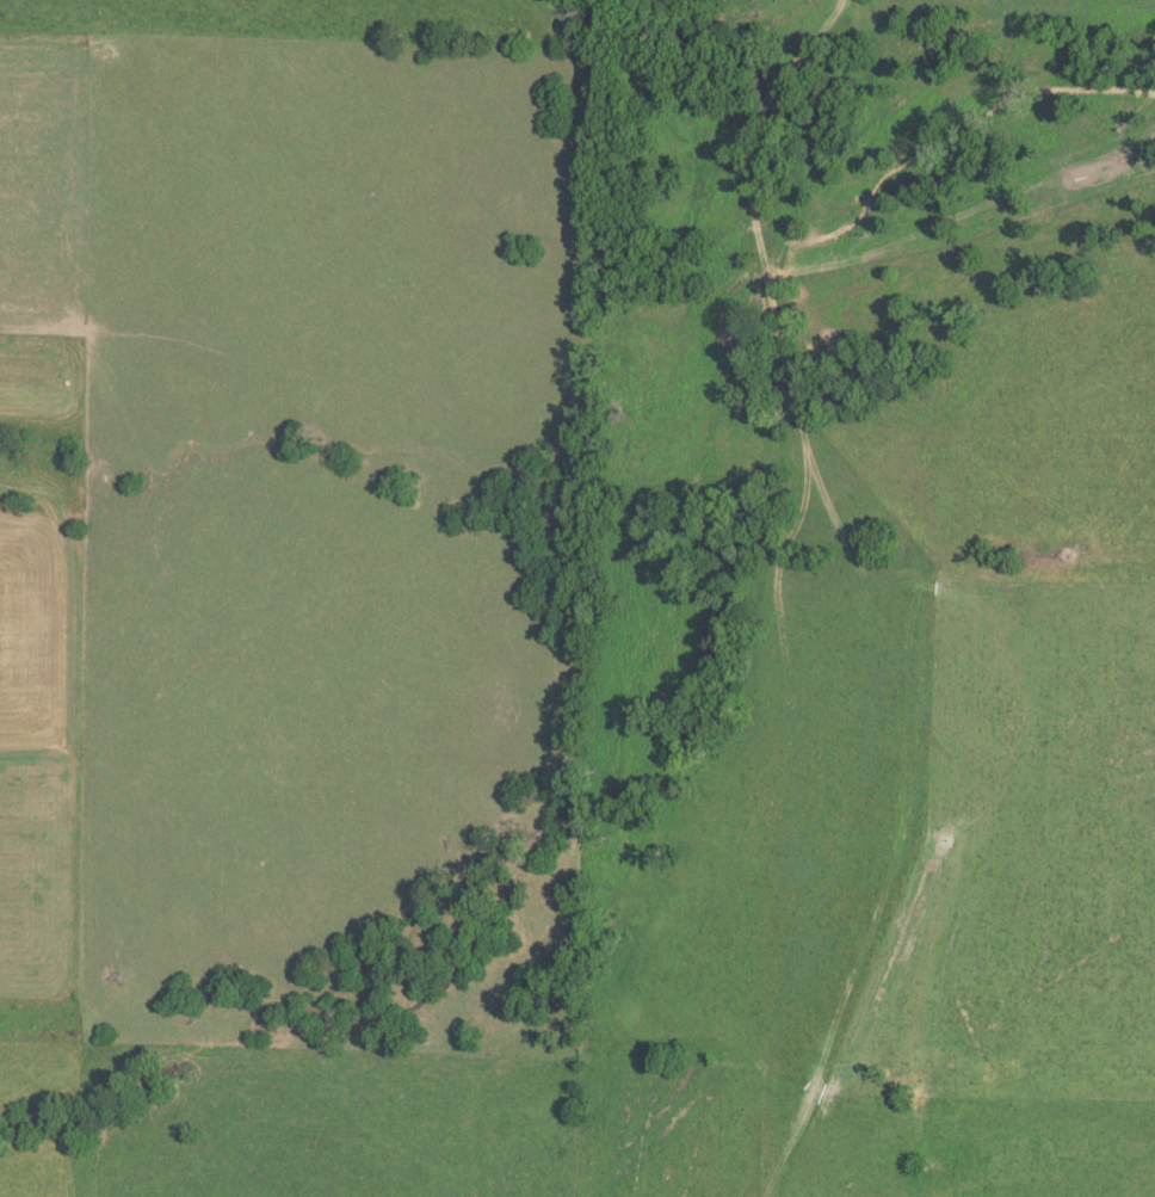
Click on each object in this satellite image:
building: (715, 24)

